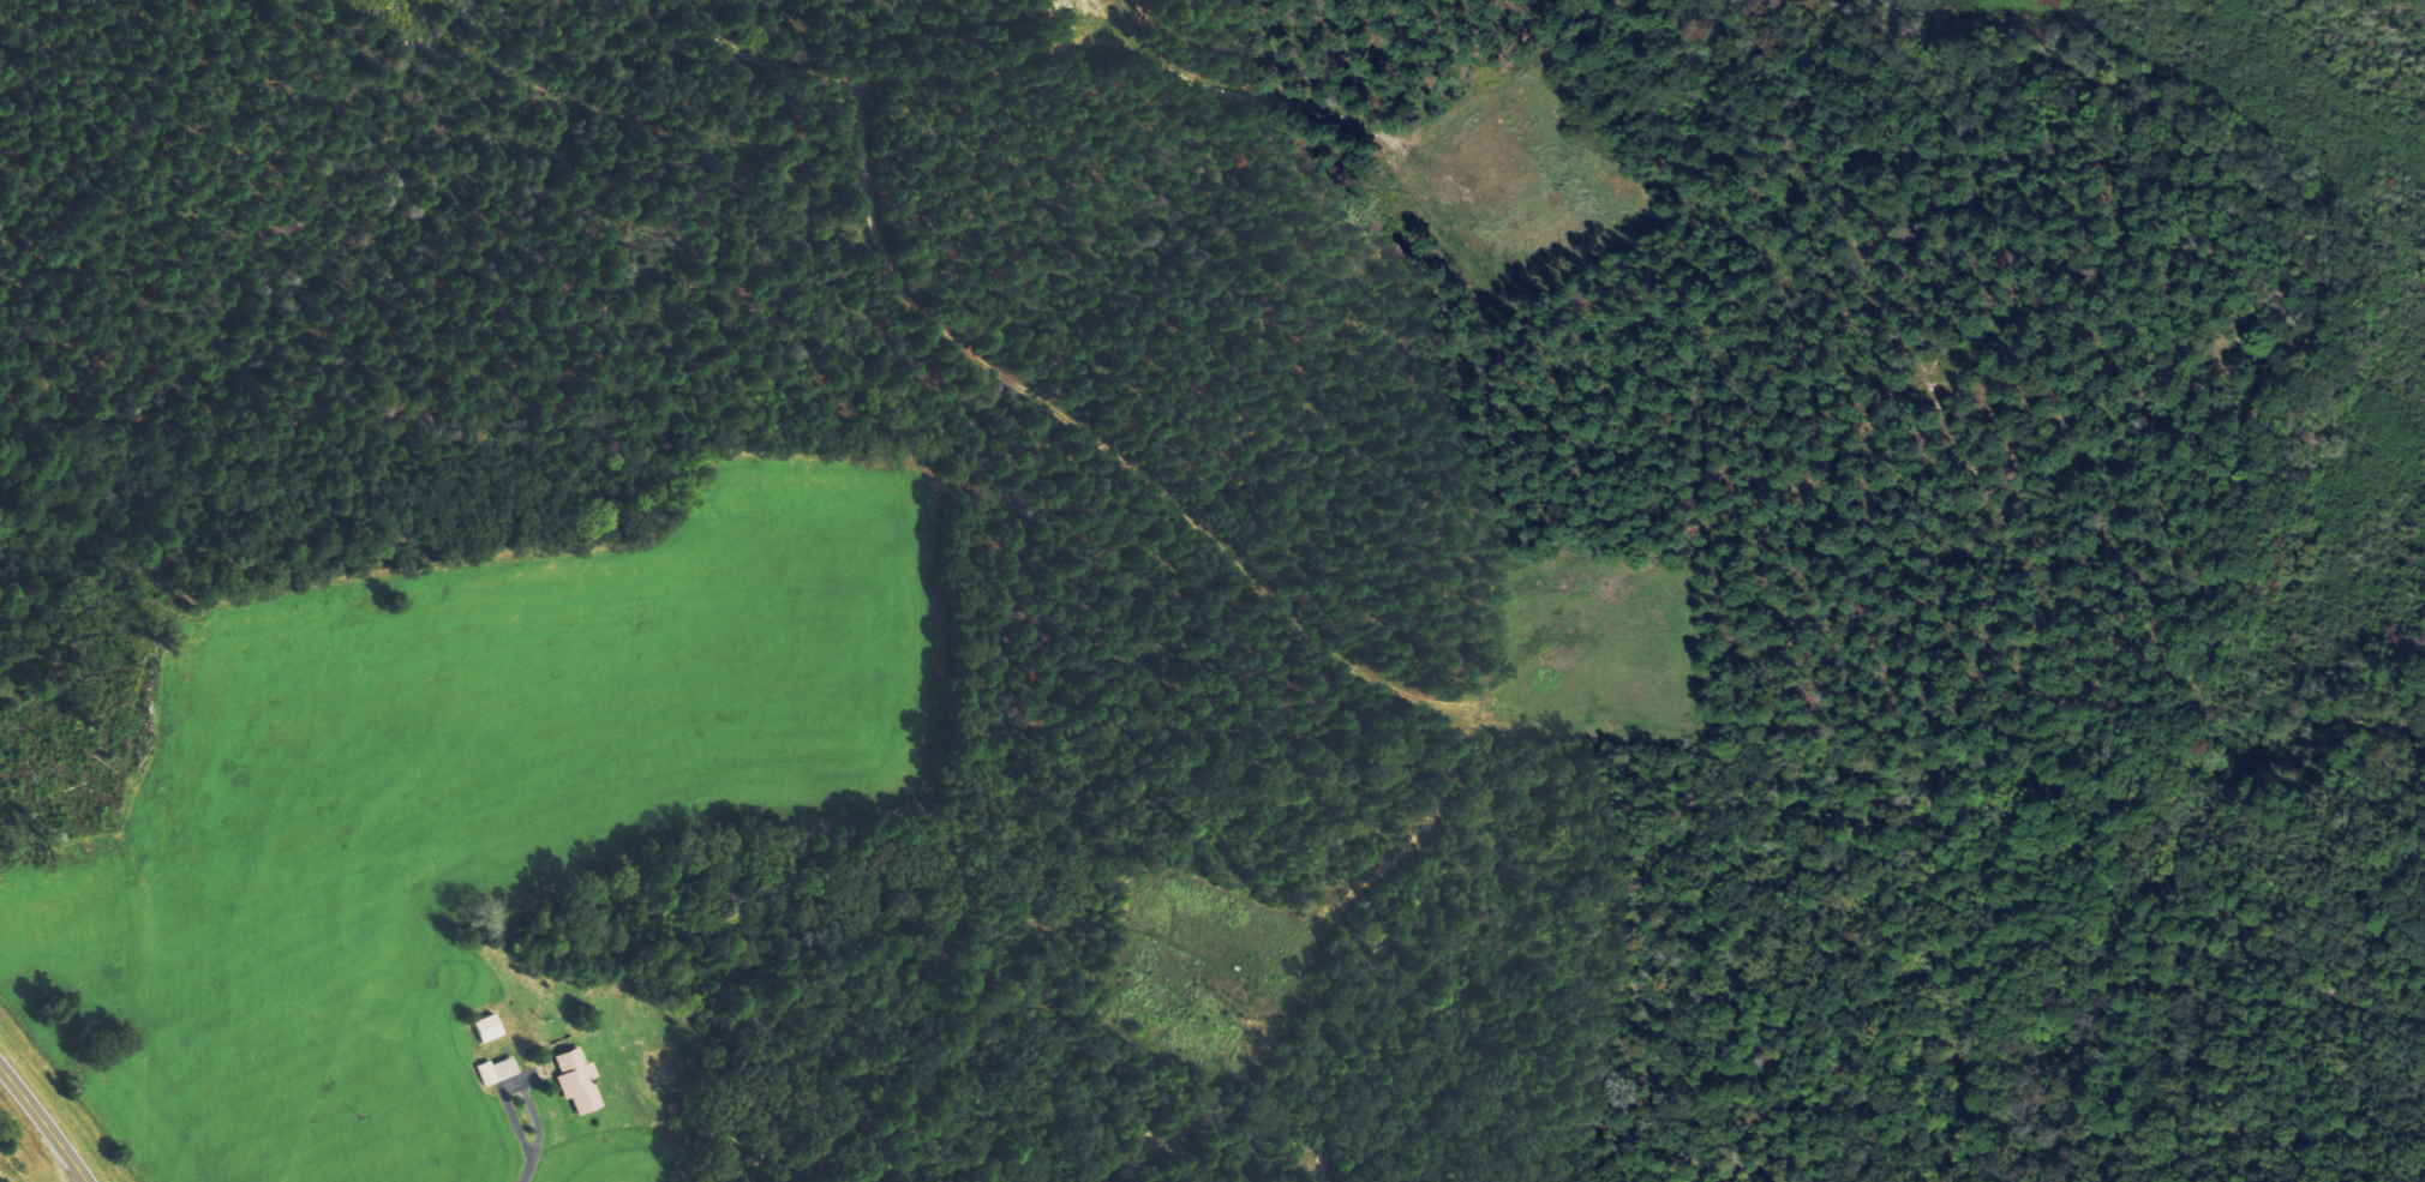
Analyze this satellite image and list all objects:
road: (906, 82)
river: (2378, 104)
building: (489, 1028)
building: (579, 1082)
road: (44, 1115)
road: (5, 1180)

